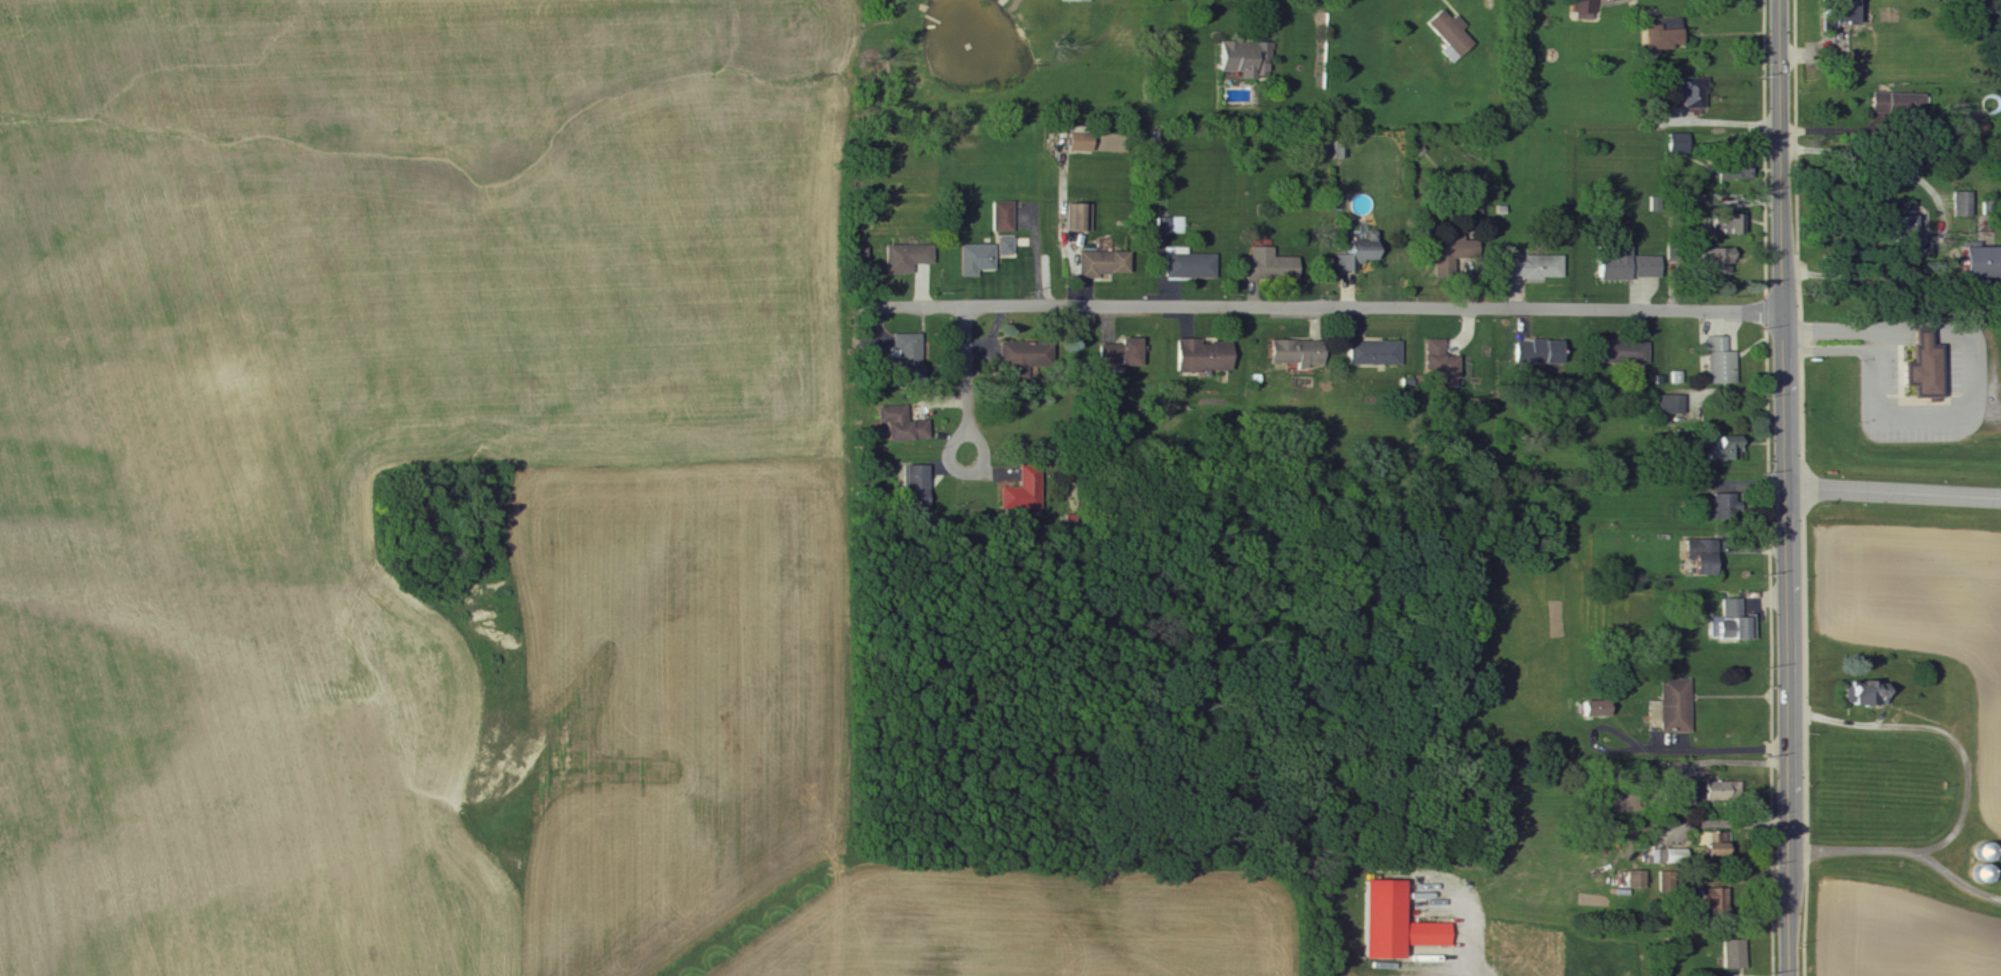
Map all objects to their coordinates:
building: (1076, 1)
building: (1585, 9)
building: (1842, 16)
building: (1665, 35)
building: (1452, 36)
building: (1247, 59)
building: (1689, 95)
building: (1900, 105)
road: (1726, 124)
building: (1081, 141)
building: (1679, 143)
building: (1737, 171)
road: (1782, 175)
building: (1964, 204)
building: (1003, 217)
building: (1082, 218)
road: (1944, 218)
building: (1730, 223)
building: (1164, 225)
building: (1904, 233)
building: (1006, 246)
building: (1452, 252)
building: (907, 258)
building: (977, 259)
building: (1720, 261)
building: (1982, 262)
building: (1104, 264)
building: (1272, 265)
building: (1193, 266)
building: (1632, 266)
building: (1538, 268)
road: (1327, 307)
road: (1830, 351)
building: (1625, 352)
building: (908, 353)
building: (1133, 353)
building: (1301, 353)
building: (1376, 354)
building: (1541, 354)
building: (1027, 355)
building: (1111, 355)
building: (1206, 356)
building: (1442, 361)
road: (1974, 361)
building: (1722, 362)
building: (1926, 368)
road: (966, 376)
building: (1671, 405)
building: (902, 425)
building: (1723, 451)
building: (917, 488)
building: (1025, 491)
road: (1893, 493)
building: (1726, 506)
building: (1704, 556)
road: (1786, 599)
building: (1736, 623)
building: (1870, 692)
building: (1674, 706)
building: (1598, 708)
road: (1724, 738)
road: (1961, 778)
building: (1700, 790)
building: (1724, 790)
building: (1685, 795)
building: (1658, 837)
building: (1712, 837)
building: (1718, 849)
building: (1988, 851)
building: (1675, 856)
building: (1986, 873)
road: (1954, 877)
building: (1637, 879)
building: (1714, 898)
road: (1789, 912)
building: (1397, 922)
building: (1735, 953)
road: (1474, 973)

